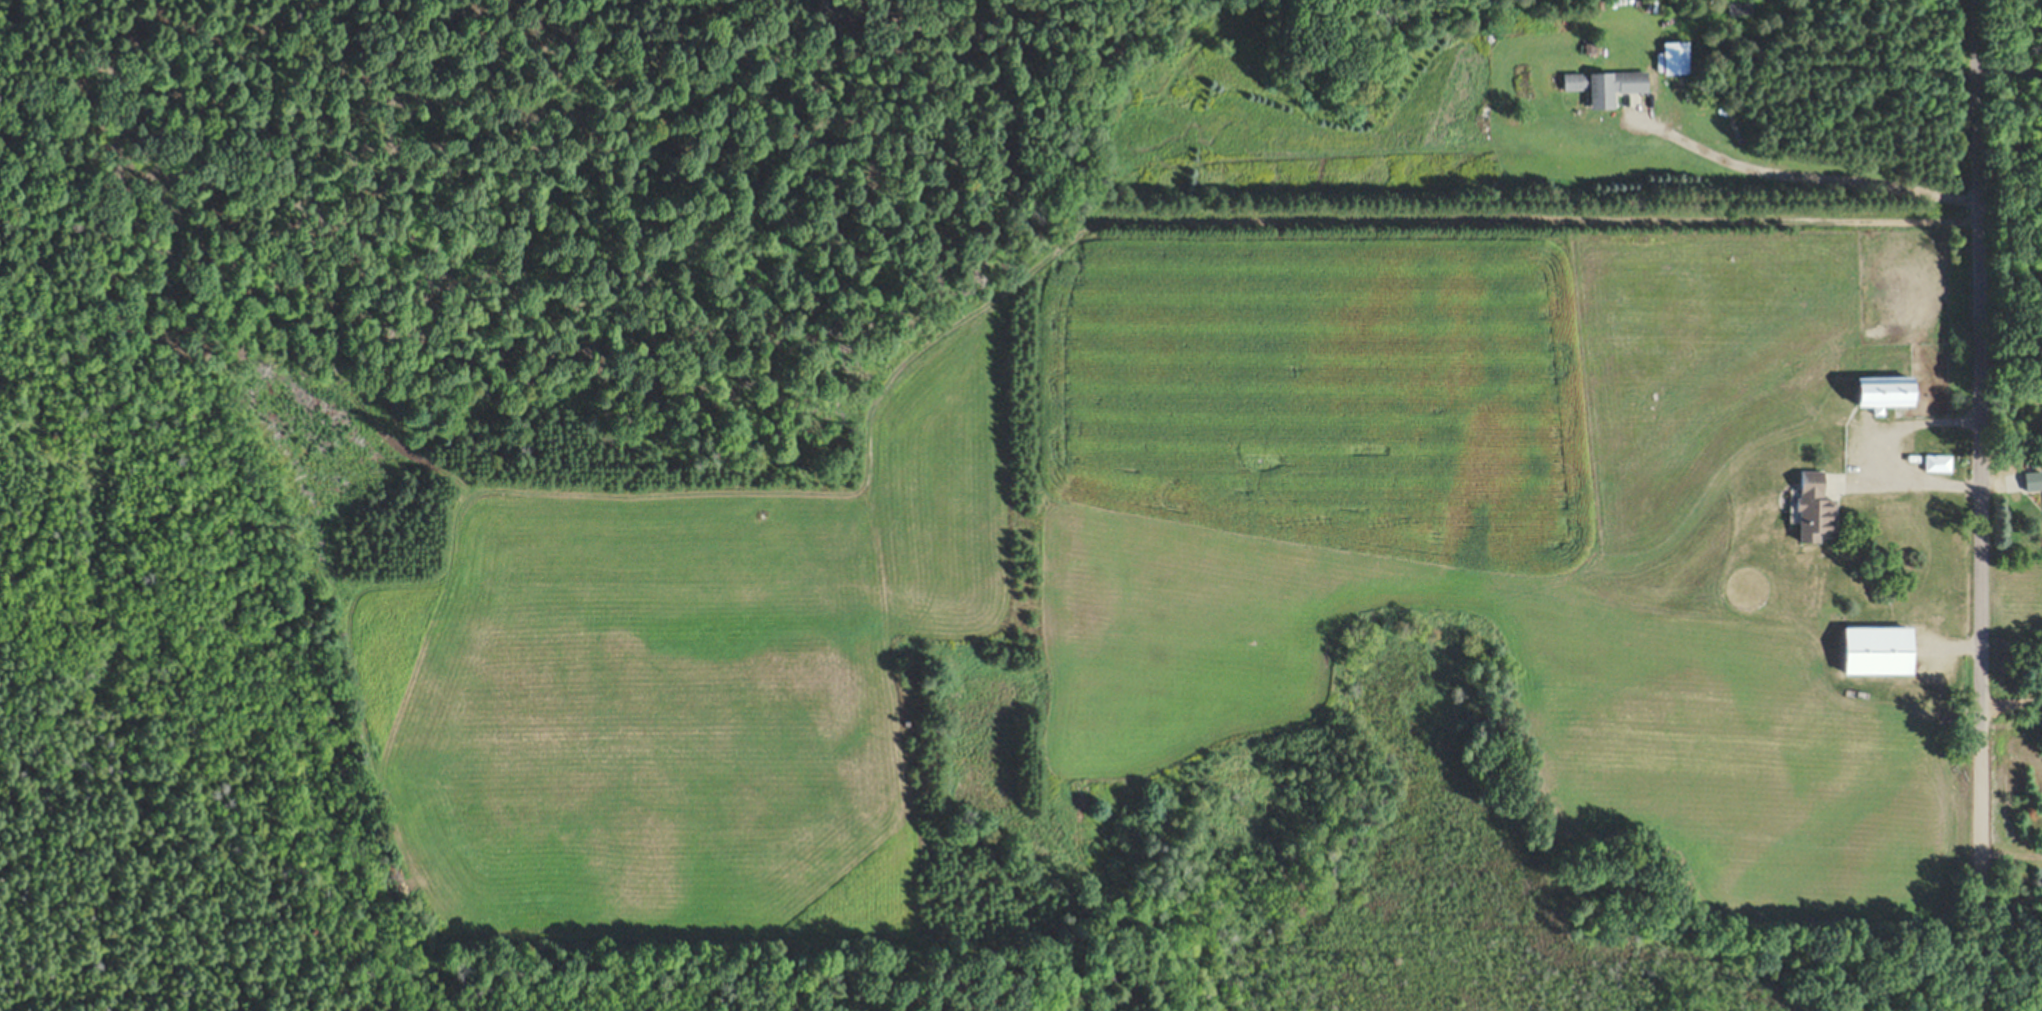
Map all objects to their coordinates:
building: (1738, 10)
building: (1676, 59)
building: (1606, 87)
road: (1795, 176)
building: (1888, 392)
building: (1938, 464)
building: (2033, 481)
road: (1968, 505)
building: (1816, 509)
building: (1881, 652)

